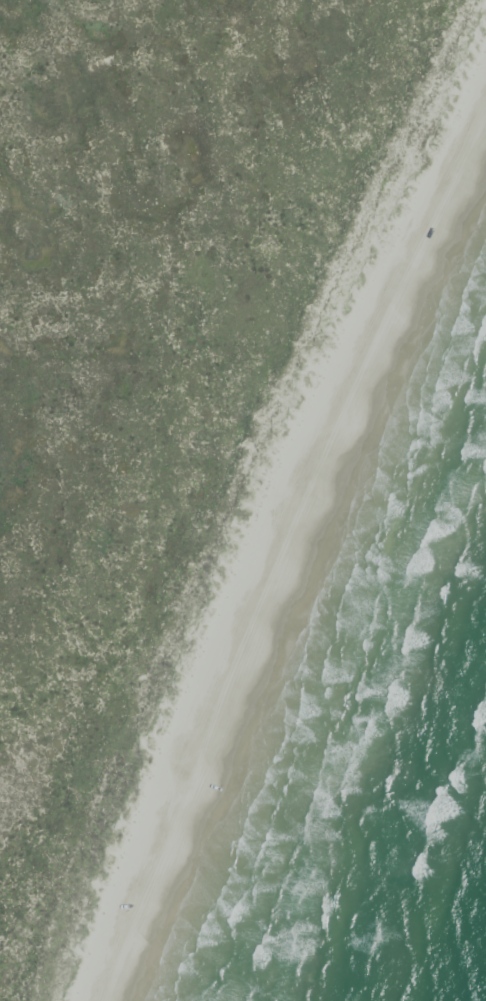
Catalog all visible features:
park: (235, 485)
road: (269, 561)

